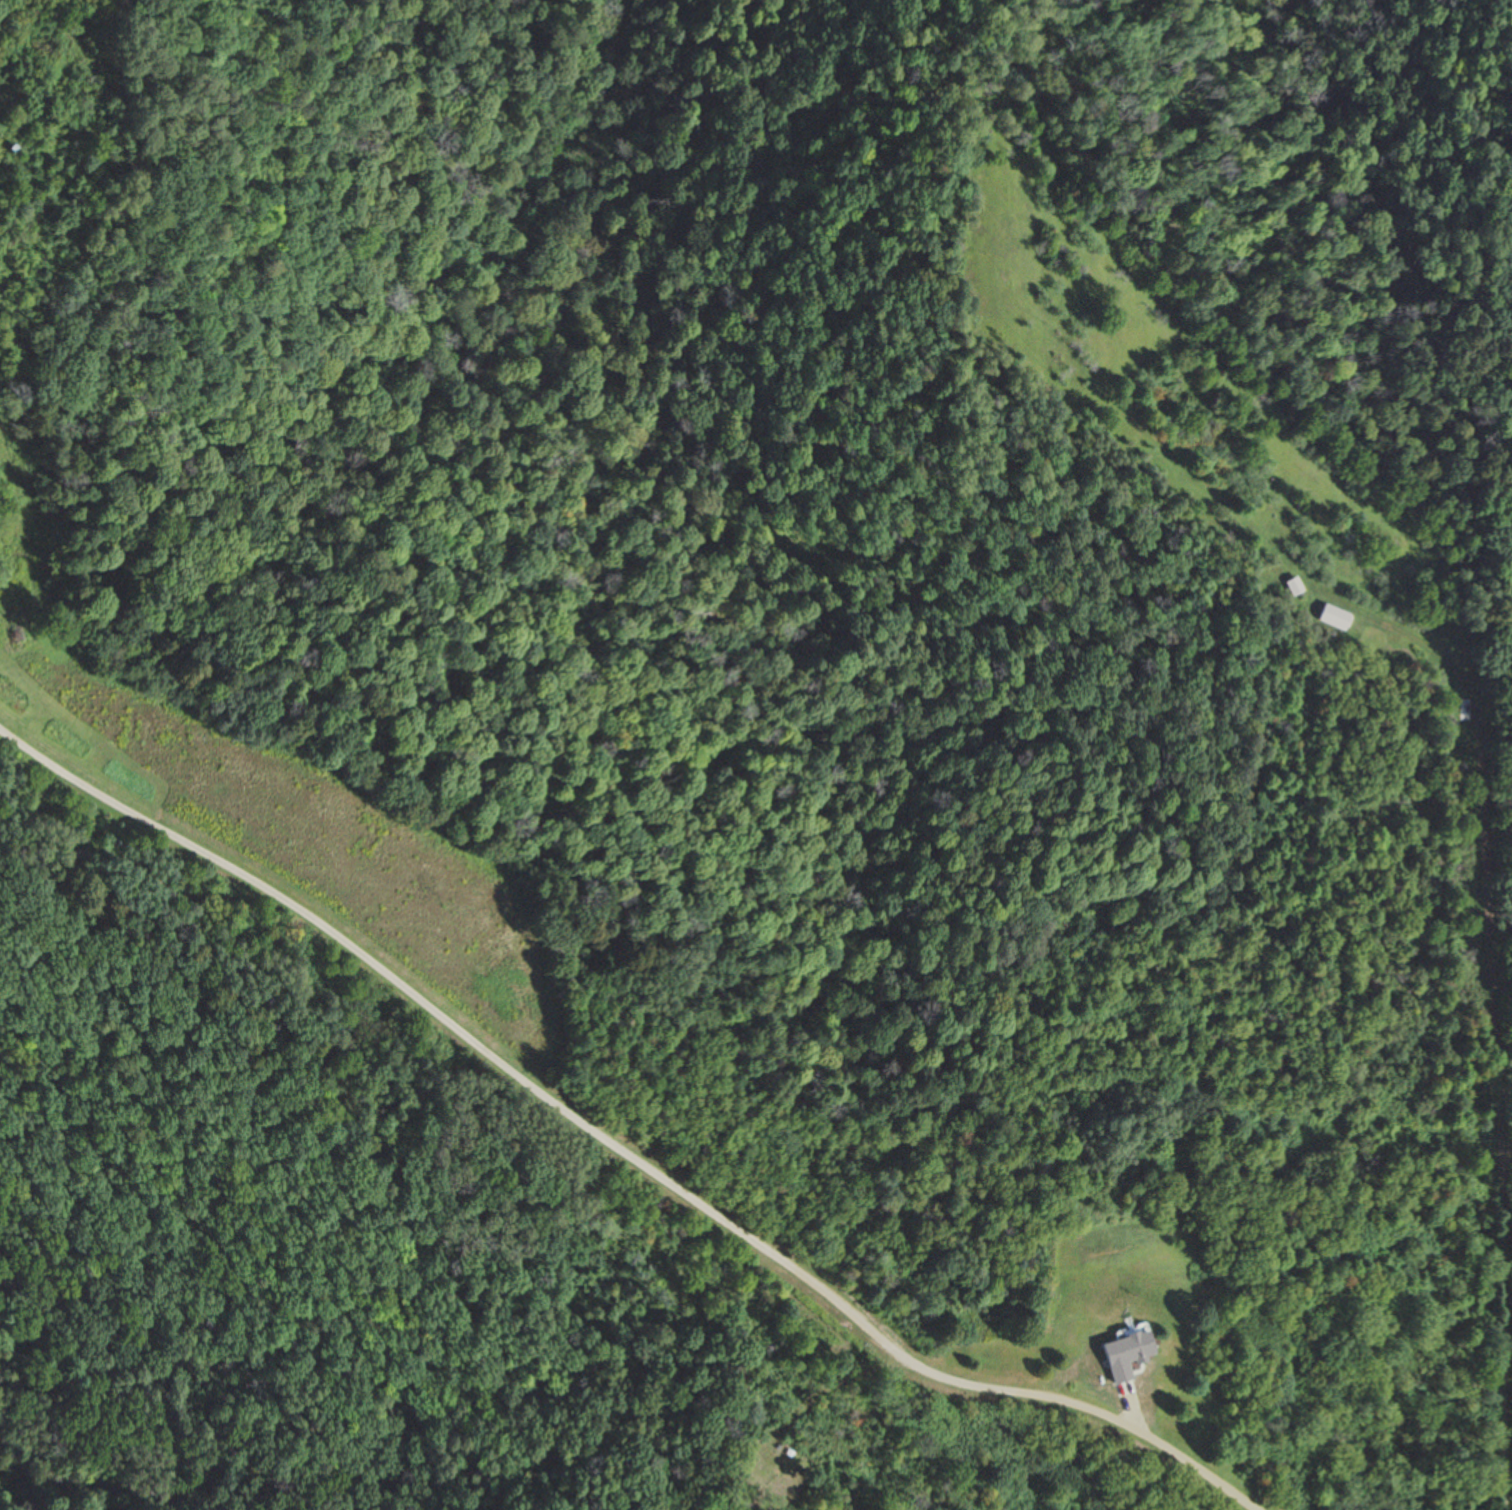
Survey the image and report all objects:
building: (79, 861)
road: (709, 1064)
building: (1136, 1343)

